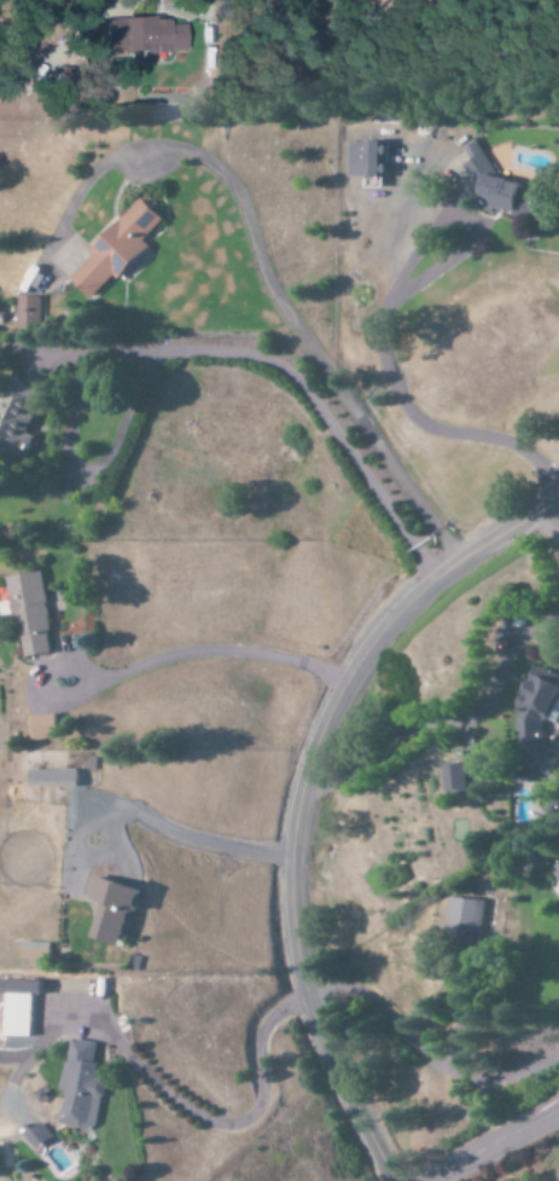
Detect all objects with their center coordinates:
road: (126, 4)
building: (145, 36)
building: (369, 162)
building: (500, 187)
building: (117, 253)
building: (34, 311)
building: (19, 419)
building: (33, 614)
building: (540, 720)
building: (46, 728)
building: (456, 777)
building: (54, 778)
road: (293, 793)
building: (116, 909)
building: (468, 913)
building: (37, 951)
building: (22, 1006)
building: (83, 1087)
building: (39, 1137)

